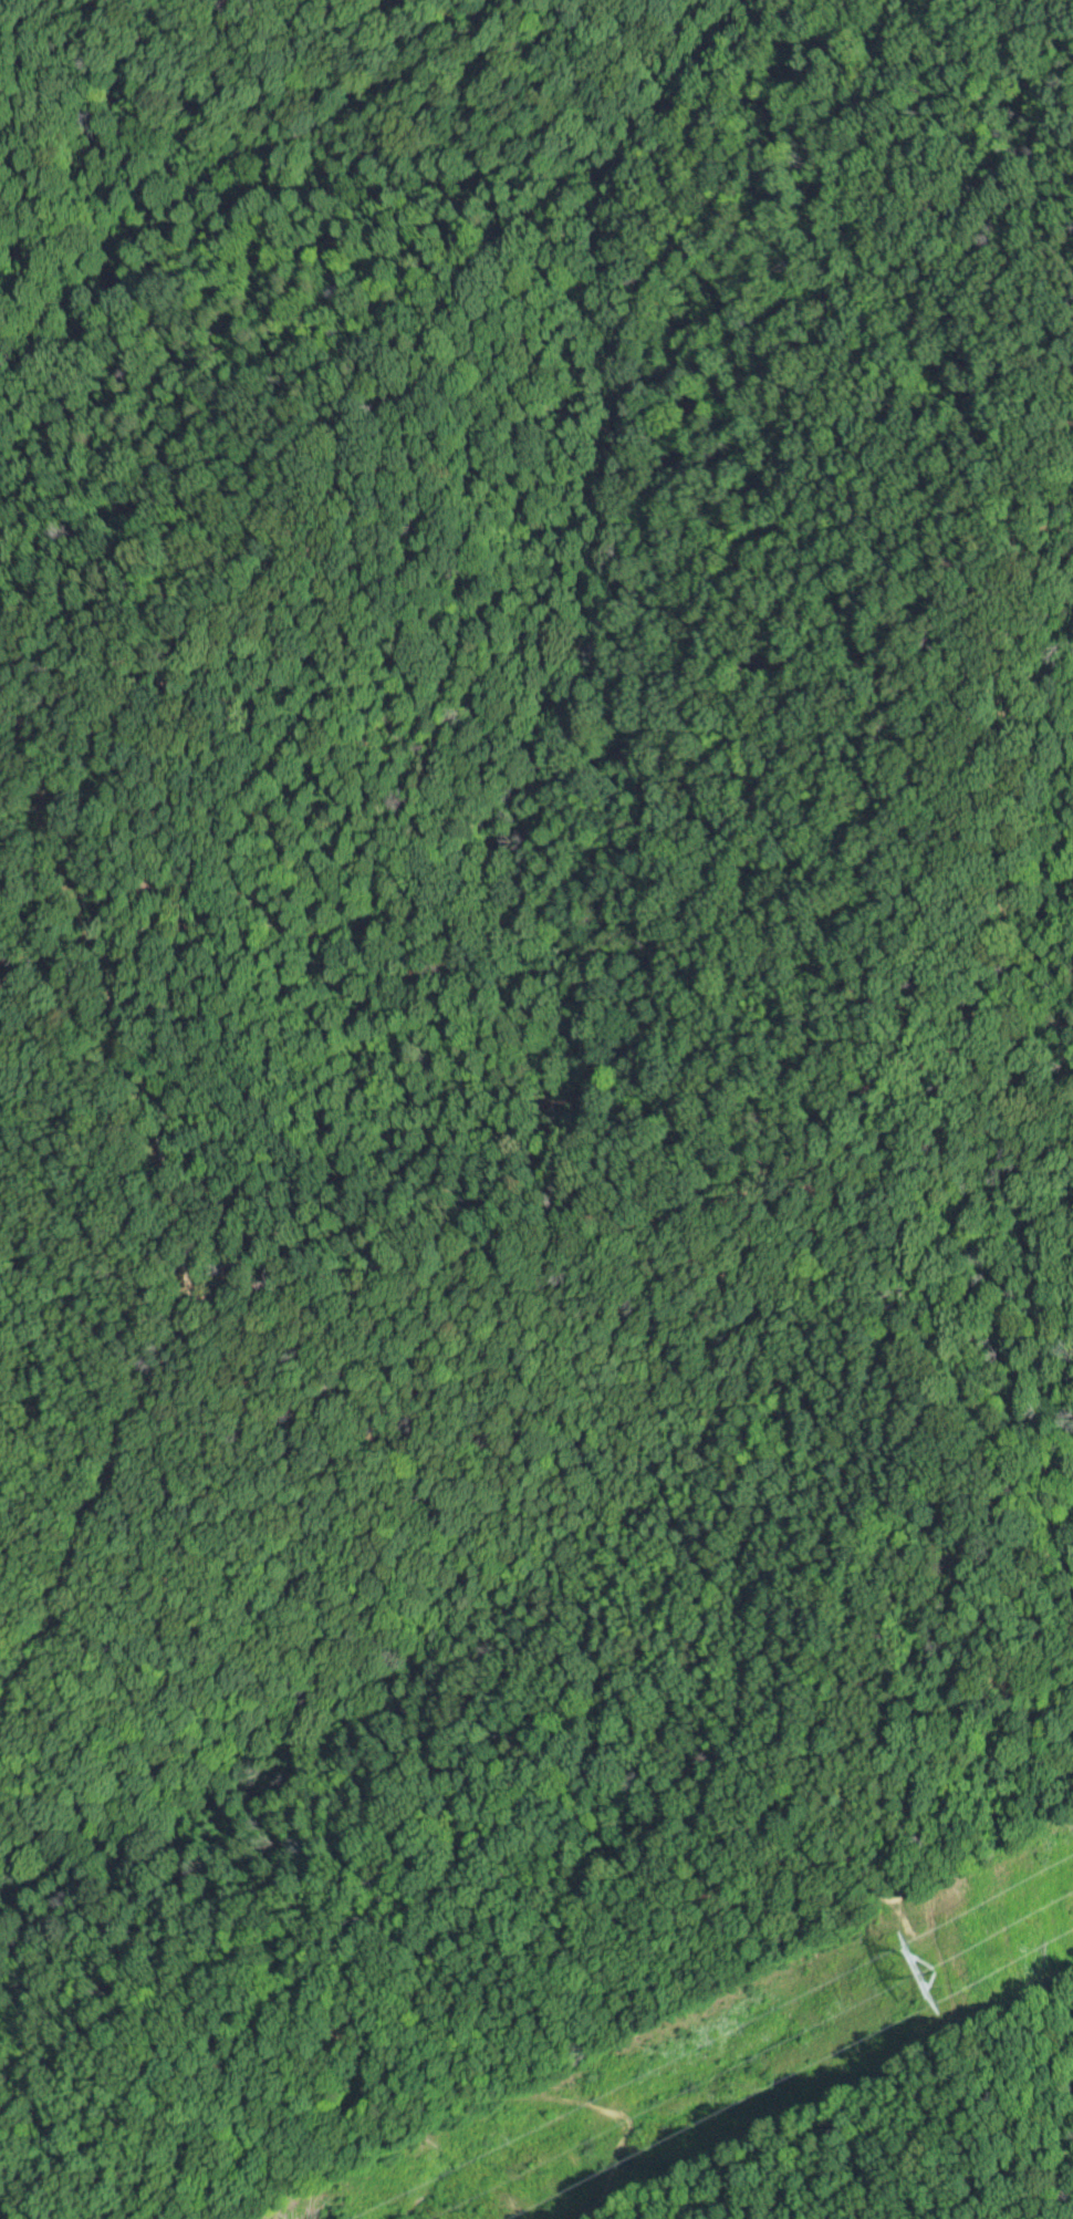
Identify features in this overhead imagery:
power tower: (928, 1963)

